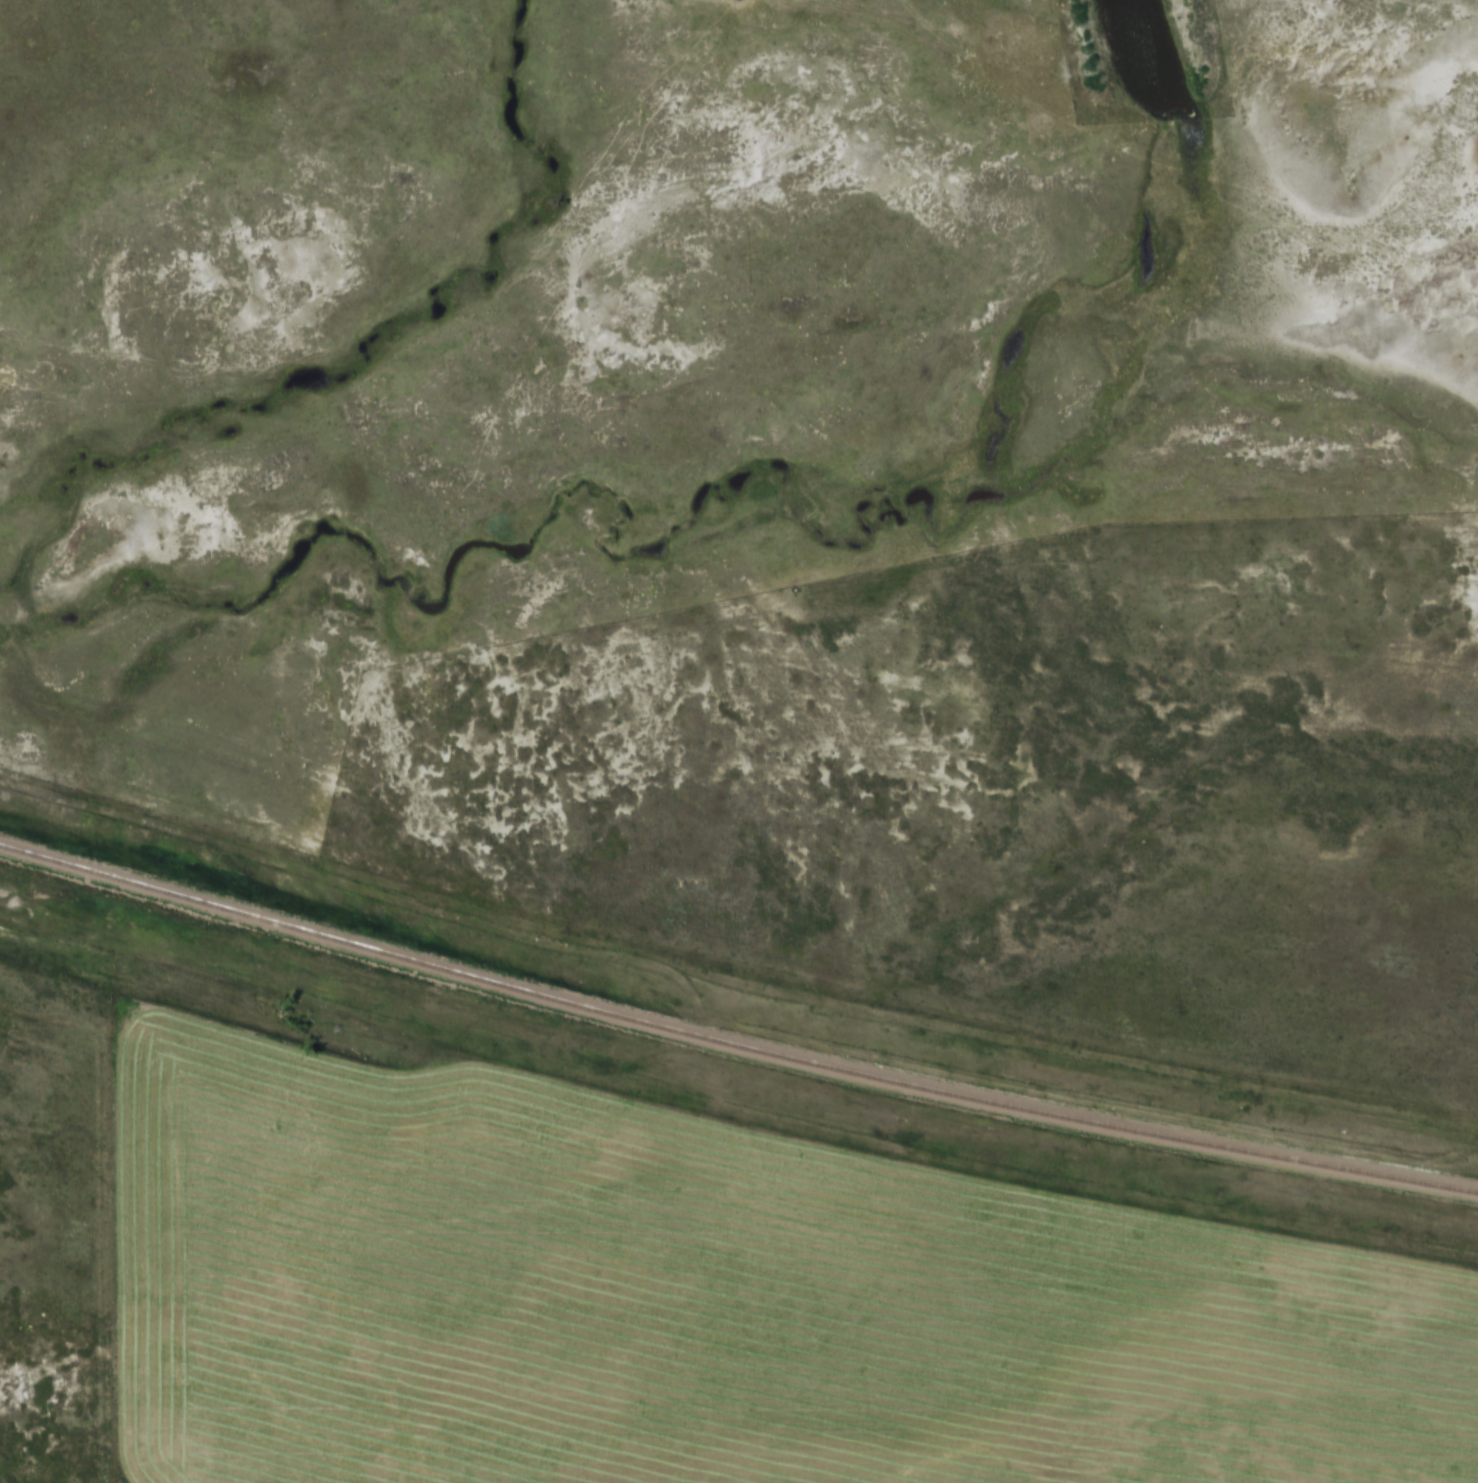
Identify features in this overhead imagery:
railway: (734, 1039)

